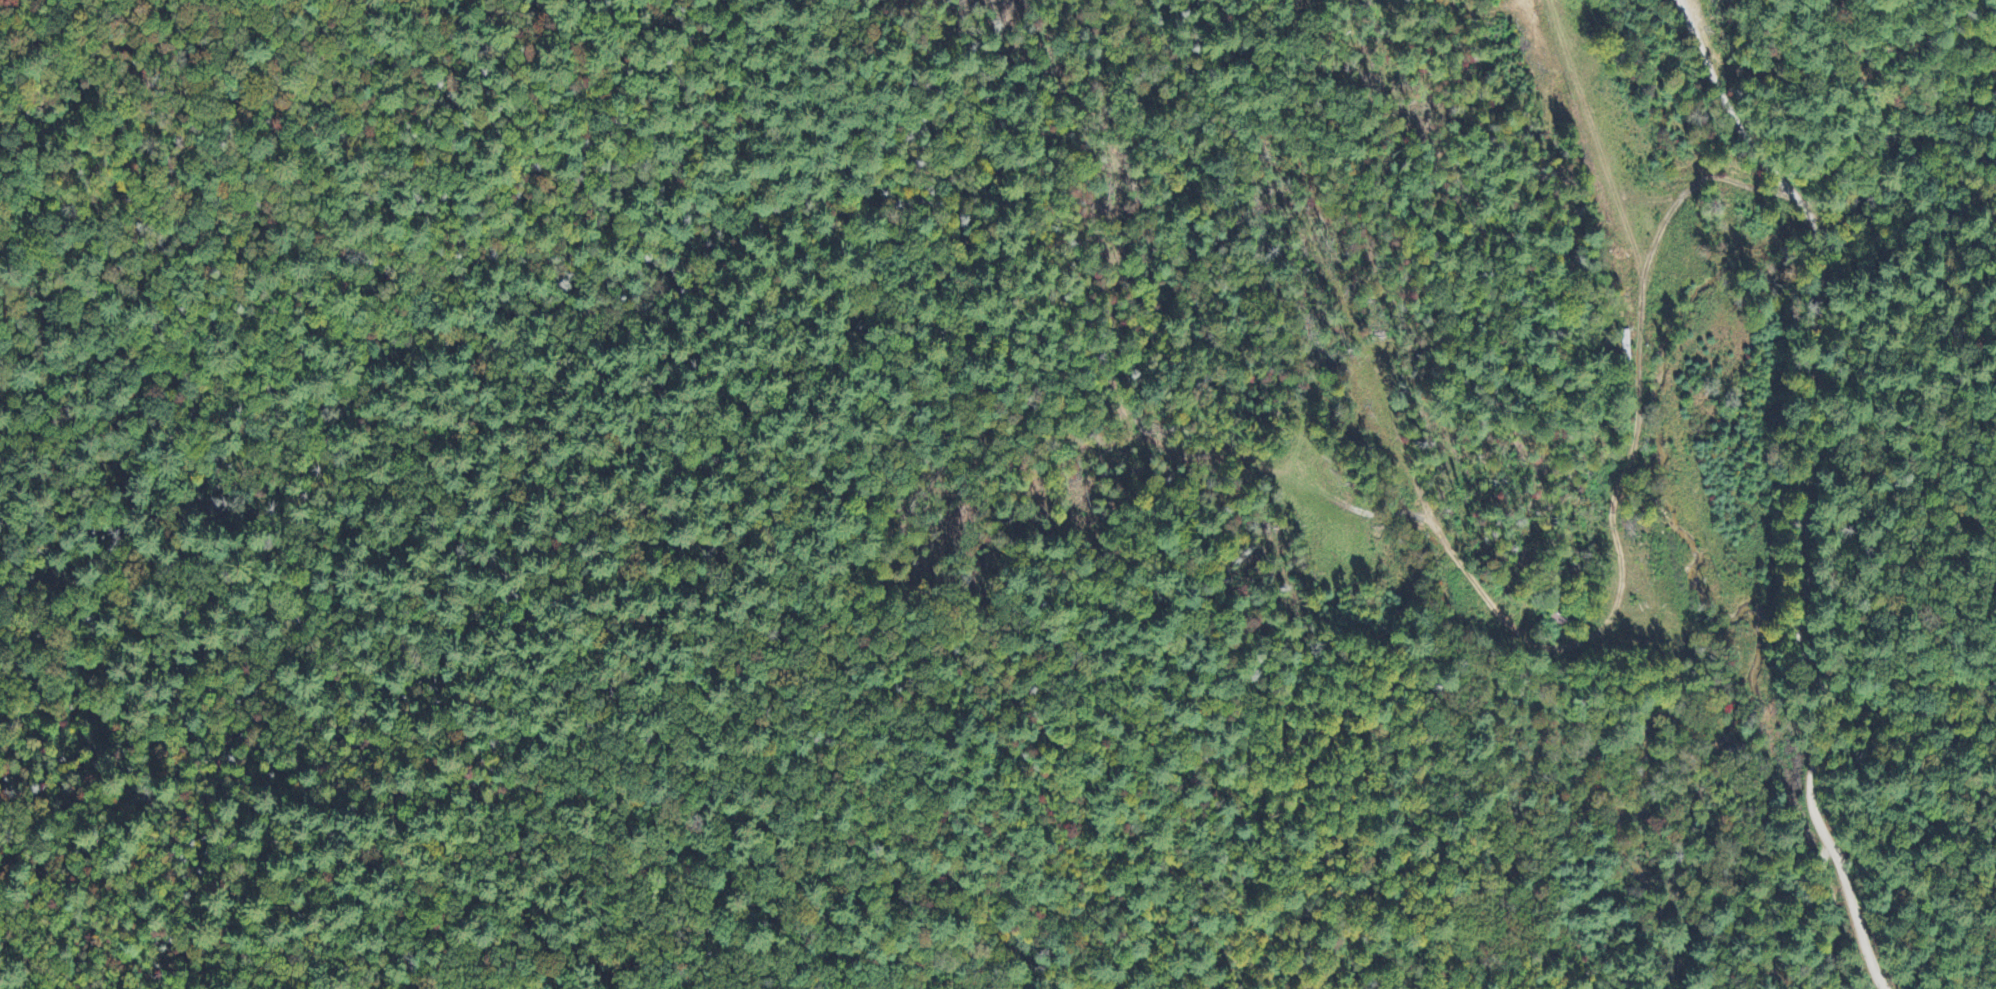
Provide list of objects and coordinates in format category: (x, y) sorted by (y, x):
road: (1857, 92)
road: (1636, 366)
road: (1808, 488)

